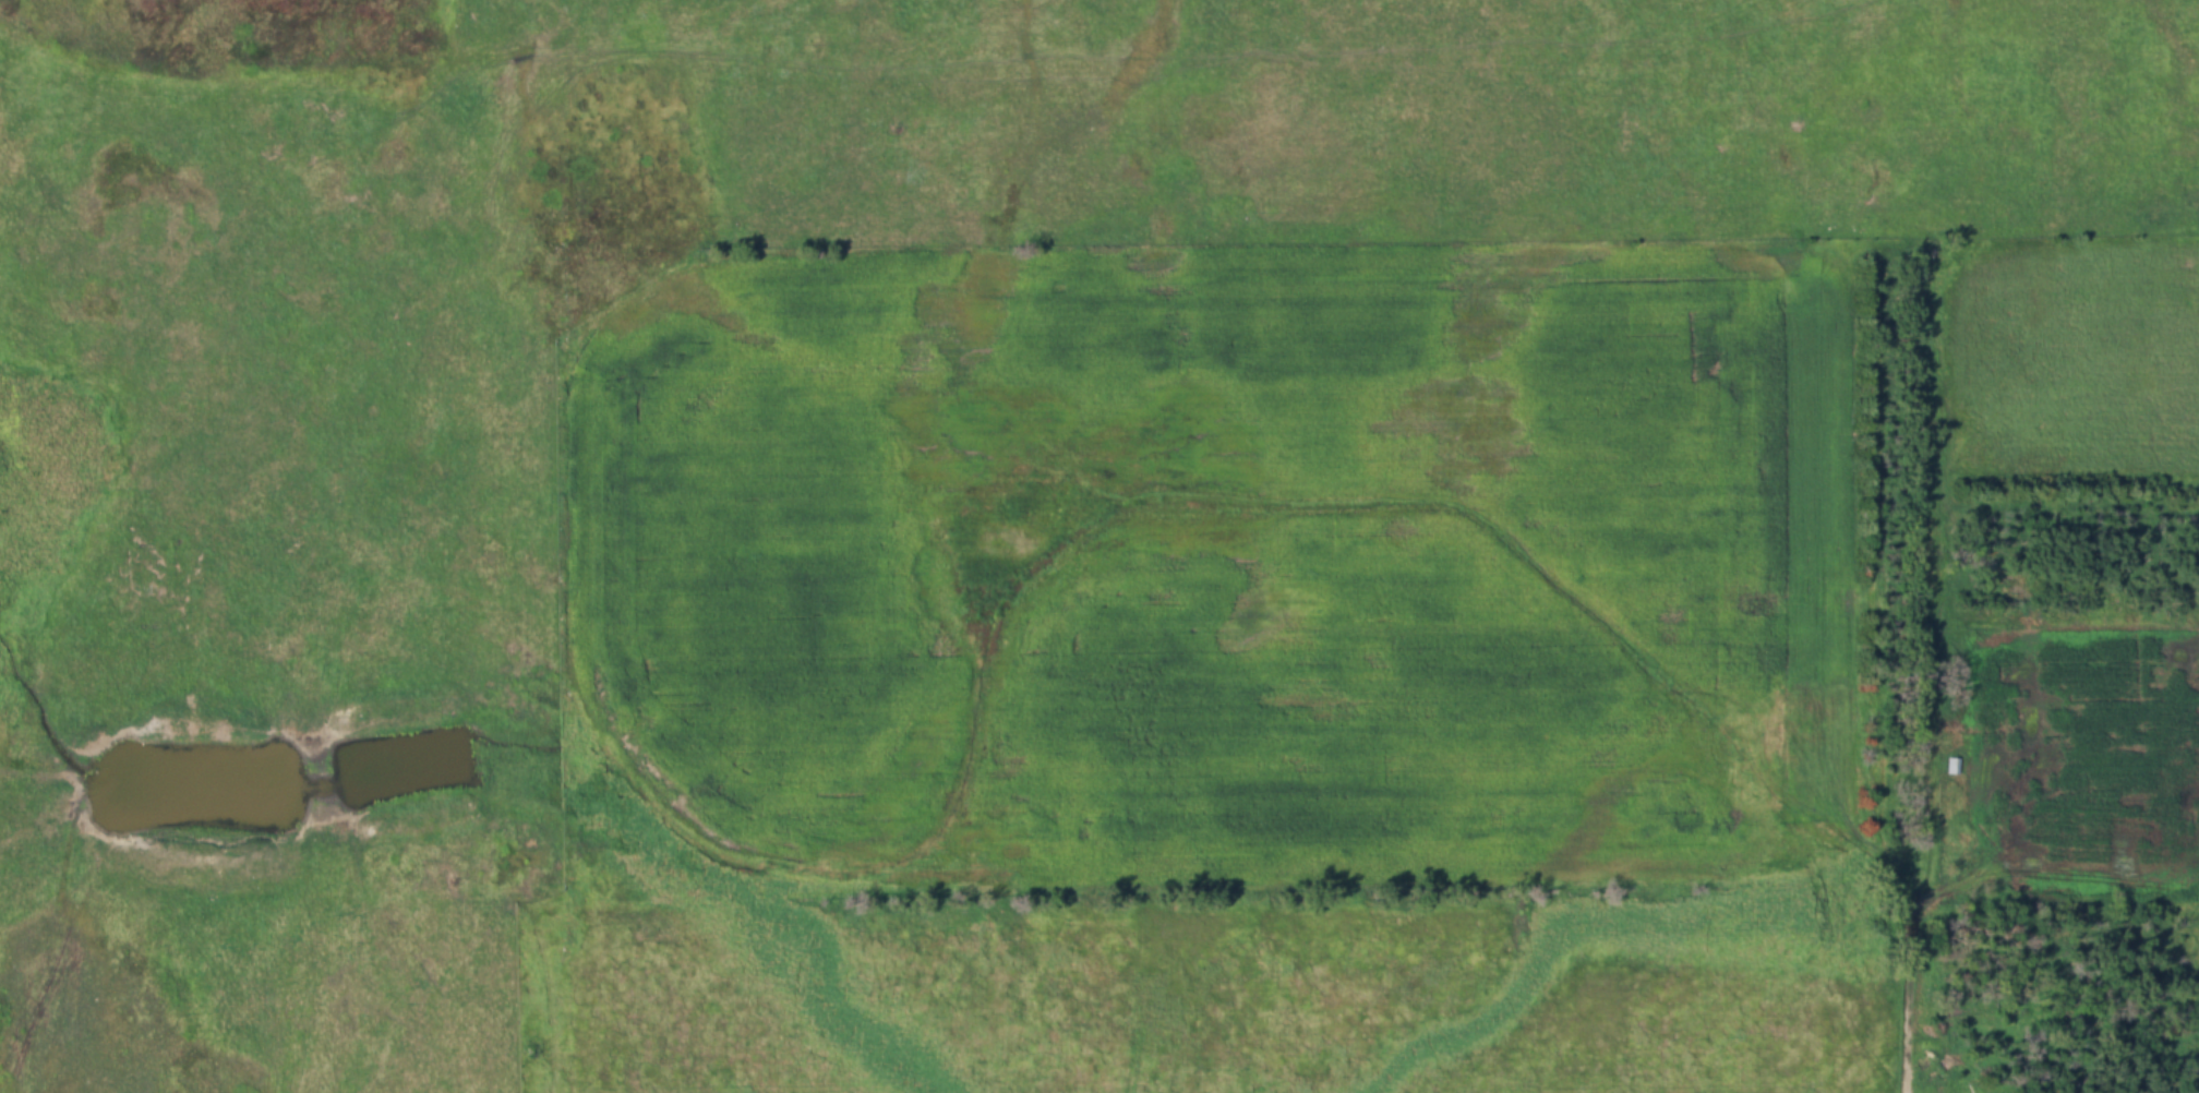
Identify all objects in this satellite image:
building: (1952, 767)

